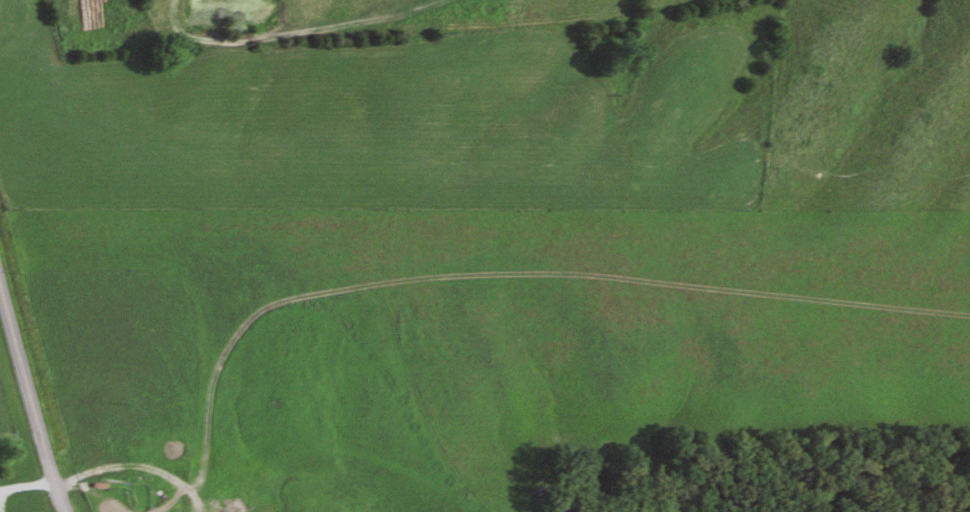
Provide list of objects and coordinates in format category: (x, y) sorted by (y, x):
road: (29, 400)

